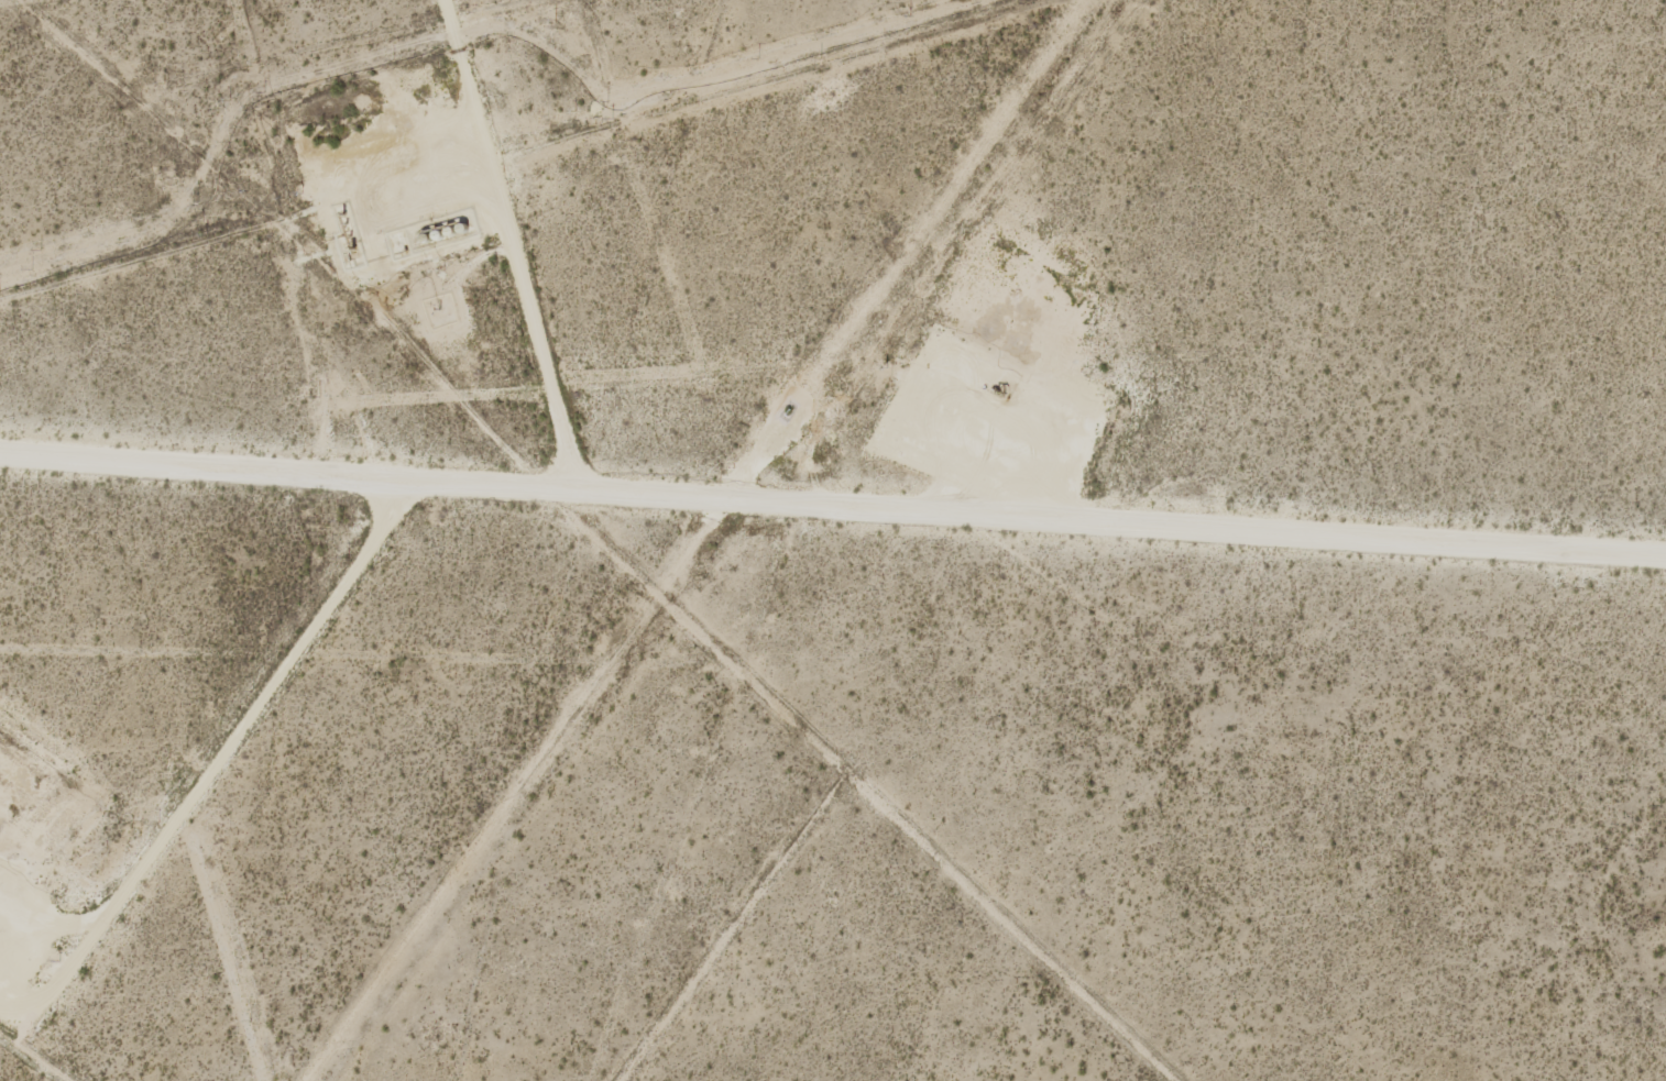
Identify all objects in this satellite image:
petroleum well: (990, 390)
road: (833, 493)

